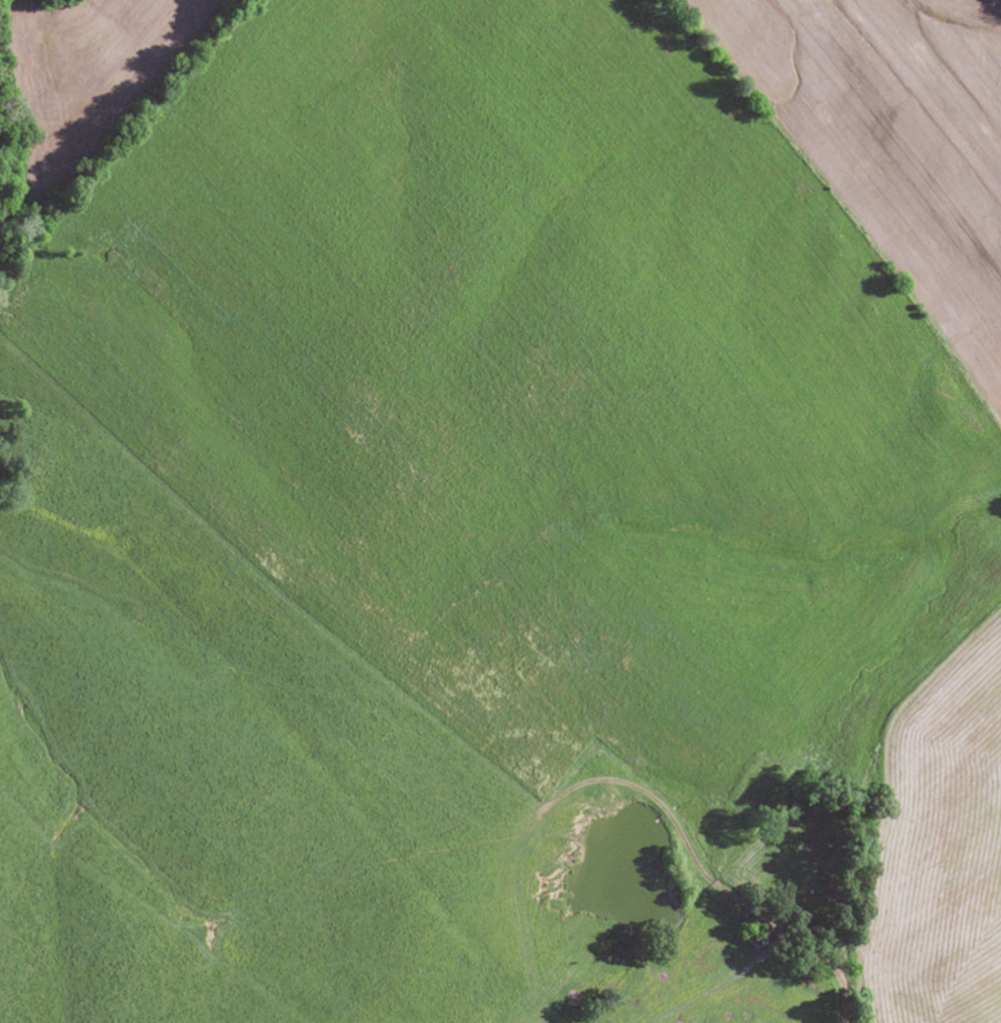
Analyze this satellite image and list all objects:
building: (750, 944)
road: (844, 1009)

